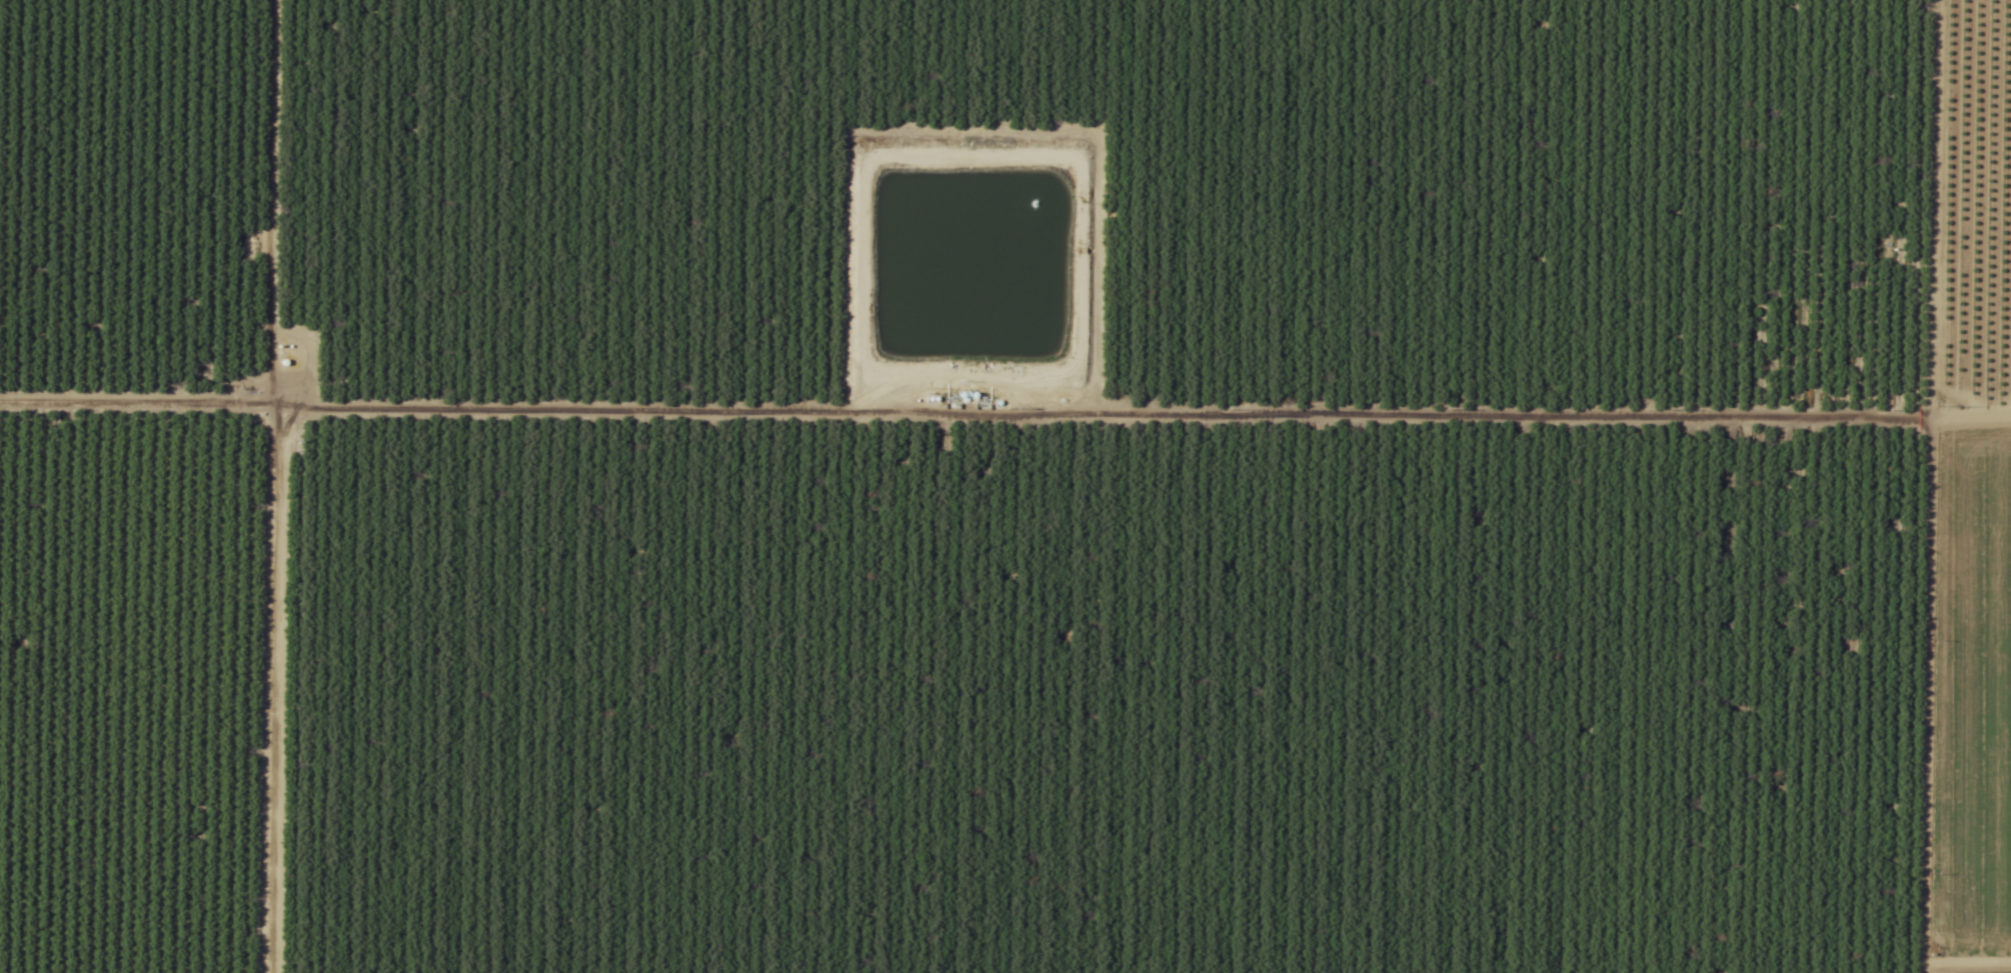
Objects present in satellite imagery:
wastewater plant: (969, 260)
road: (287, 486)
road: (1894, 623)
crop: (1971, 705)

